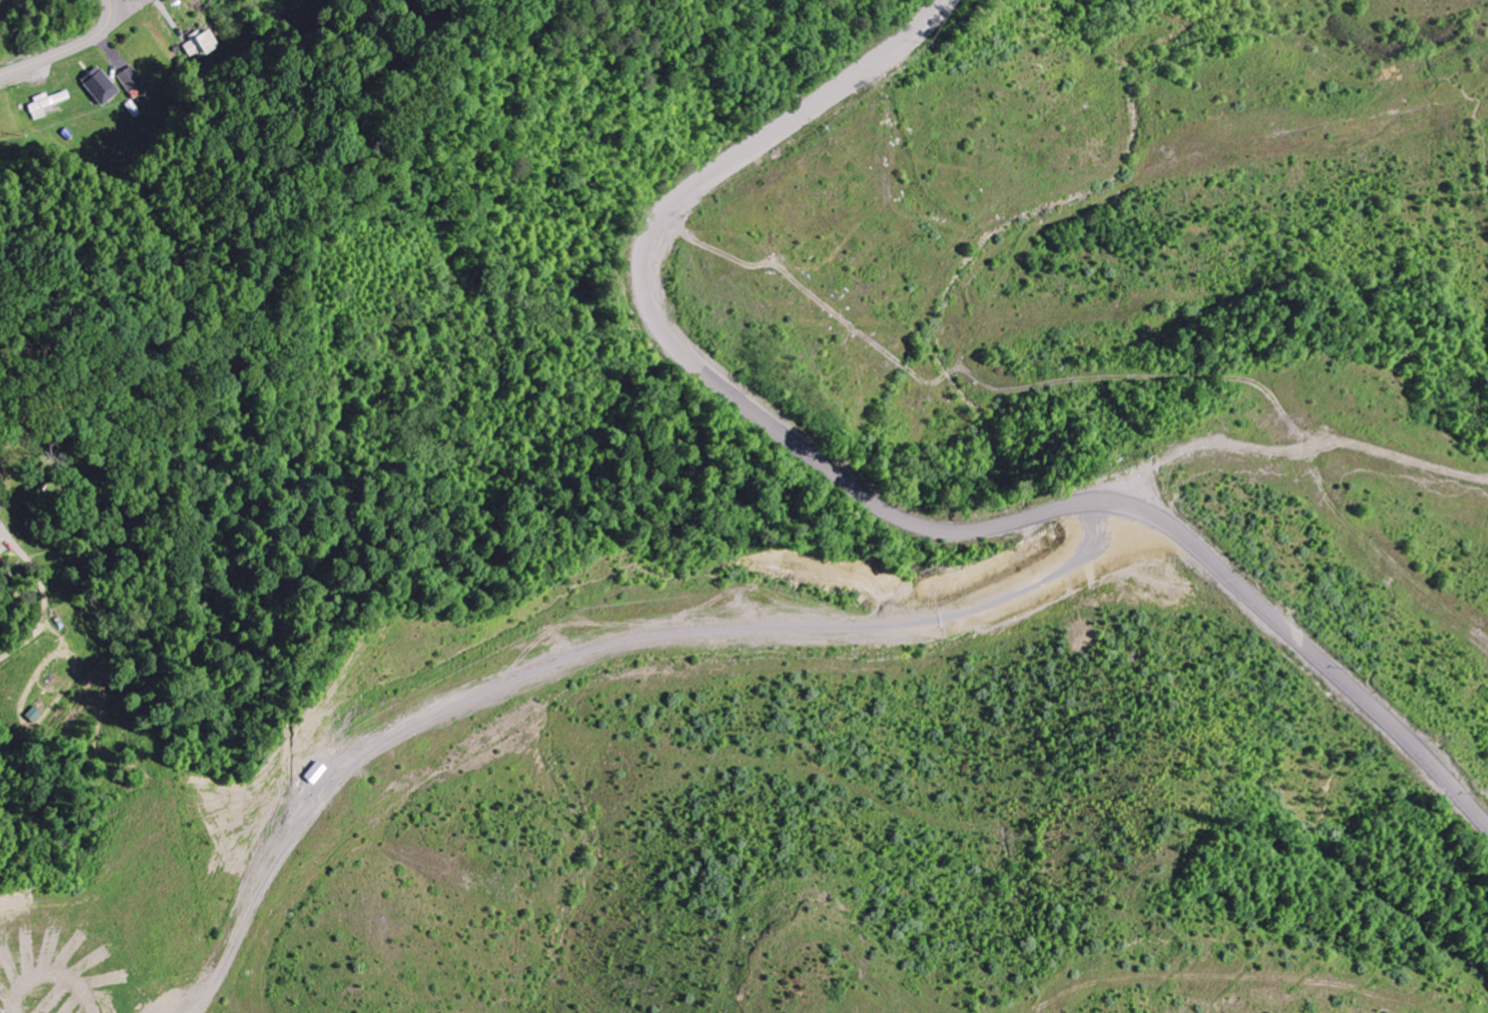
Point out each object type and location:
road: (112, 7)
building: (199, 44)
road: (67, 50)
building: (130, 79)
building: (99, 86)
building: (45, 104)
road: (894, 512)
building: (32, 715)
building: (317, 773)

